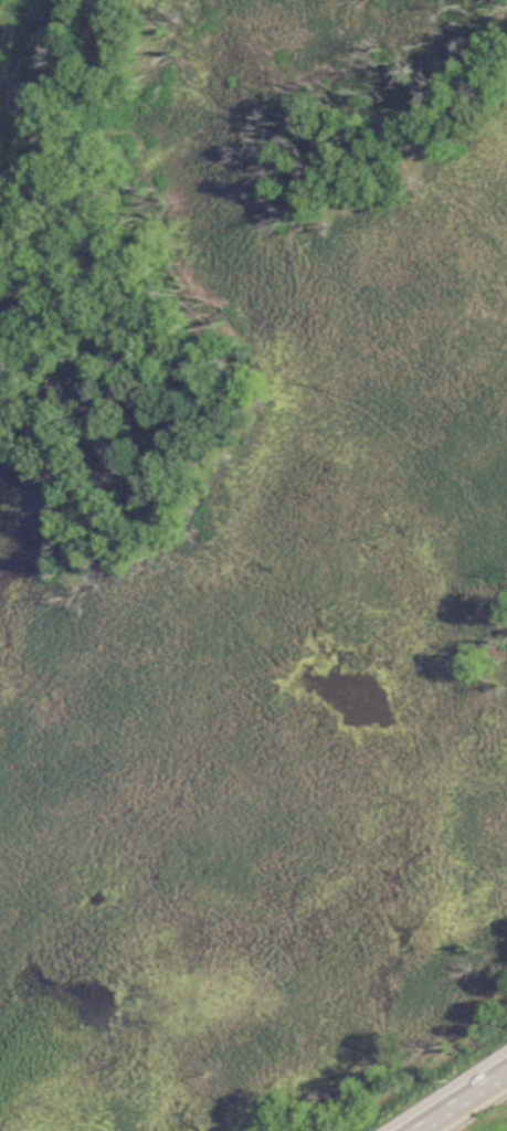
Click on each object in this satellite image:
road: (460, 1099)

